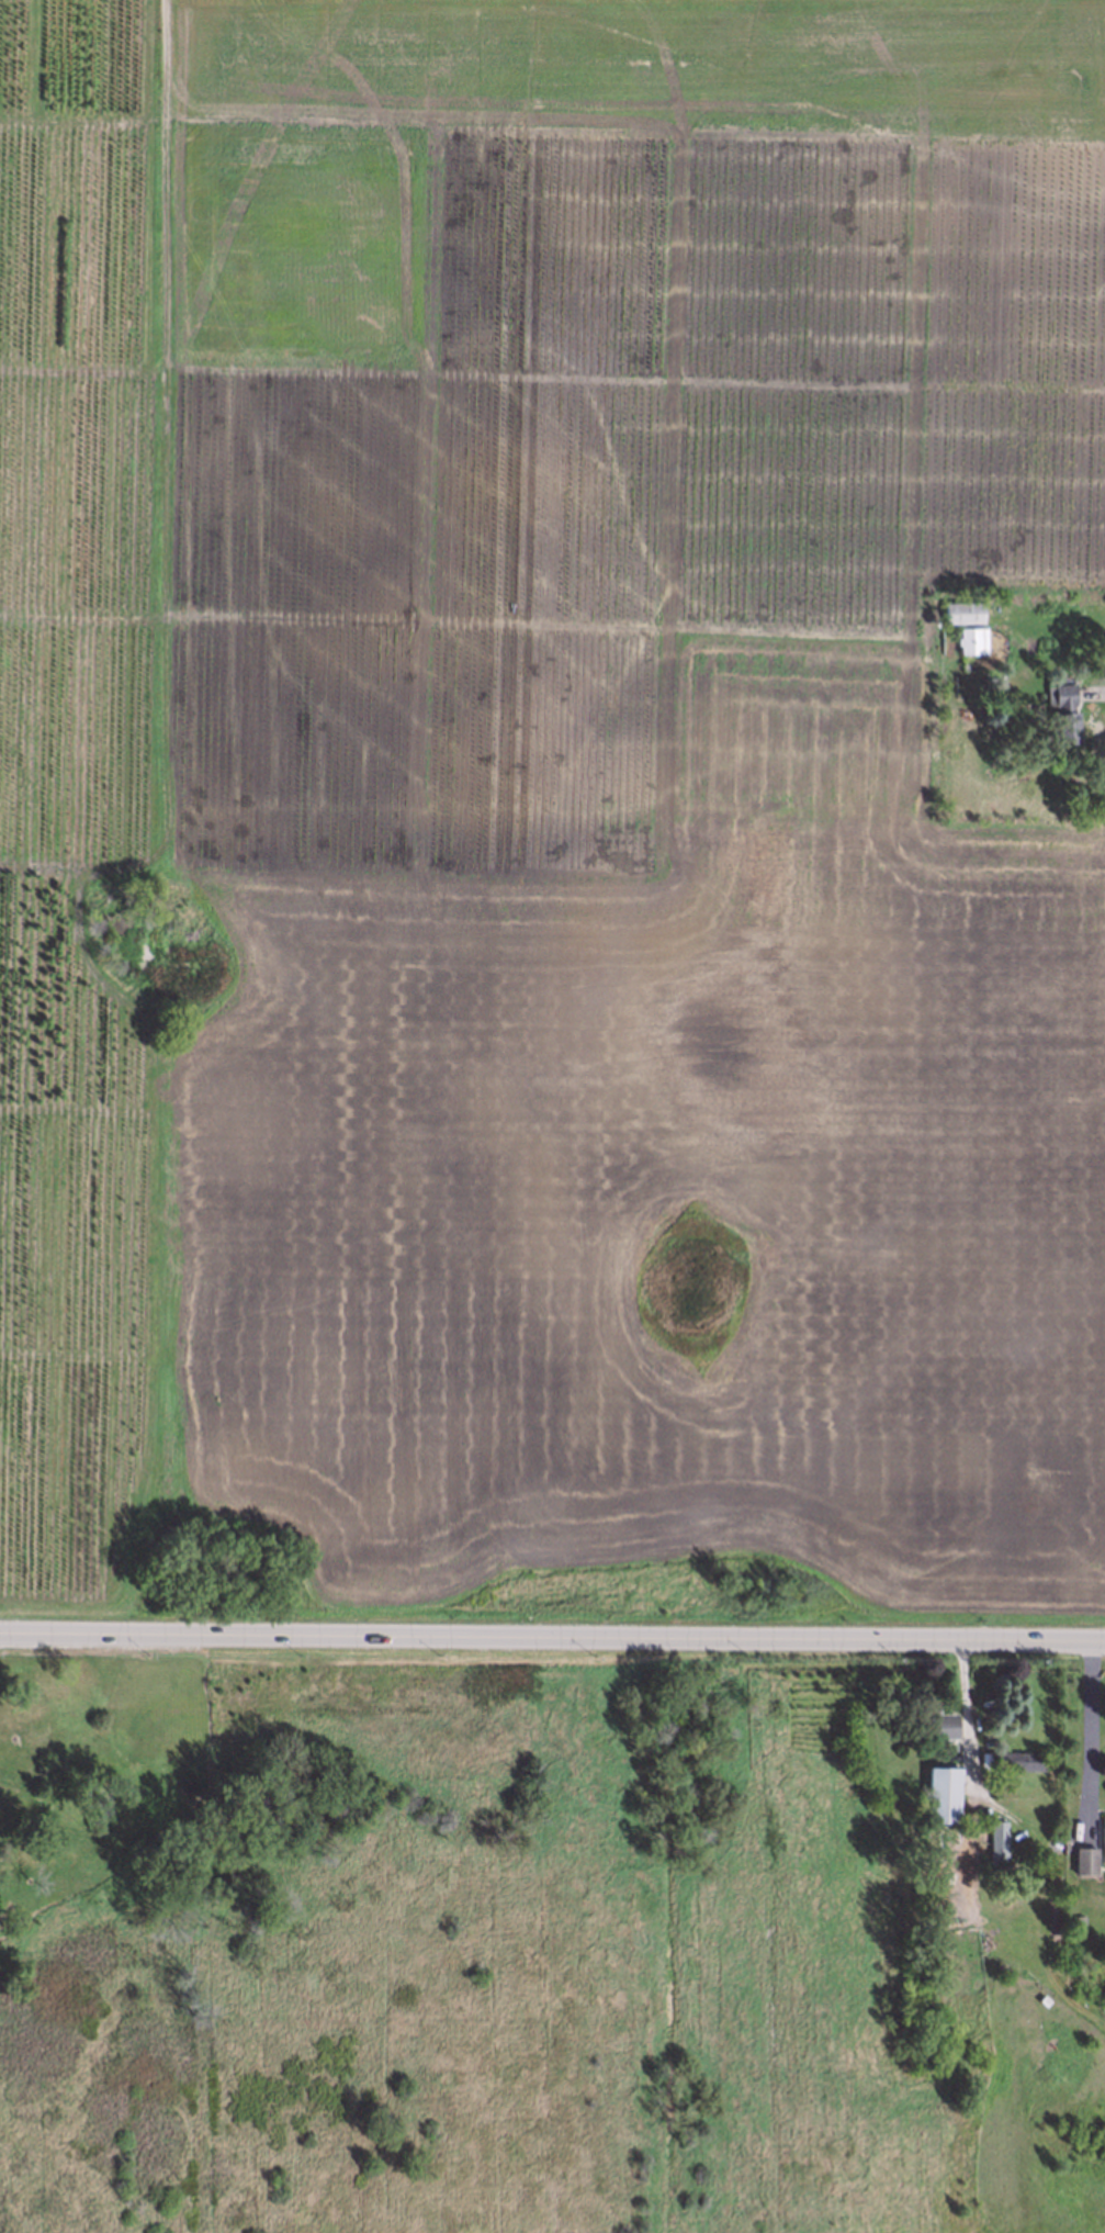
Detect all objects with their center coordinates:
building: (962, 610)
building: (972, 639)
building: (1061, 711)
road: (552, 1636)
building: (929, 1717)
building: (1012, 1759)
building: (939, 1794)
road: (1042, 1829)
building: (996, 1838)
building: (1102, 1838)
building: (1082, 1859)
building: (1052, 1952)

